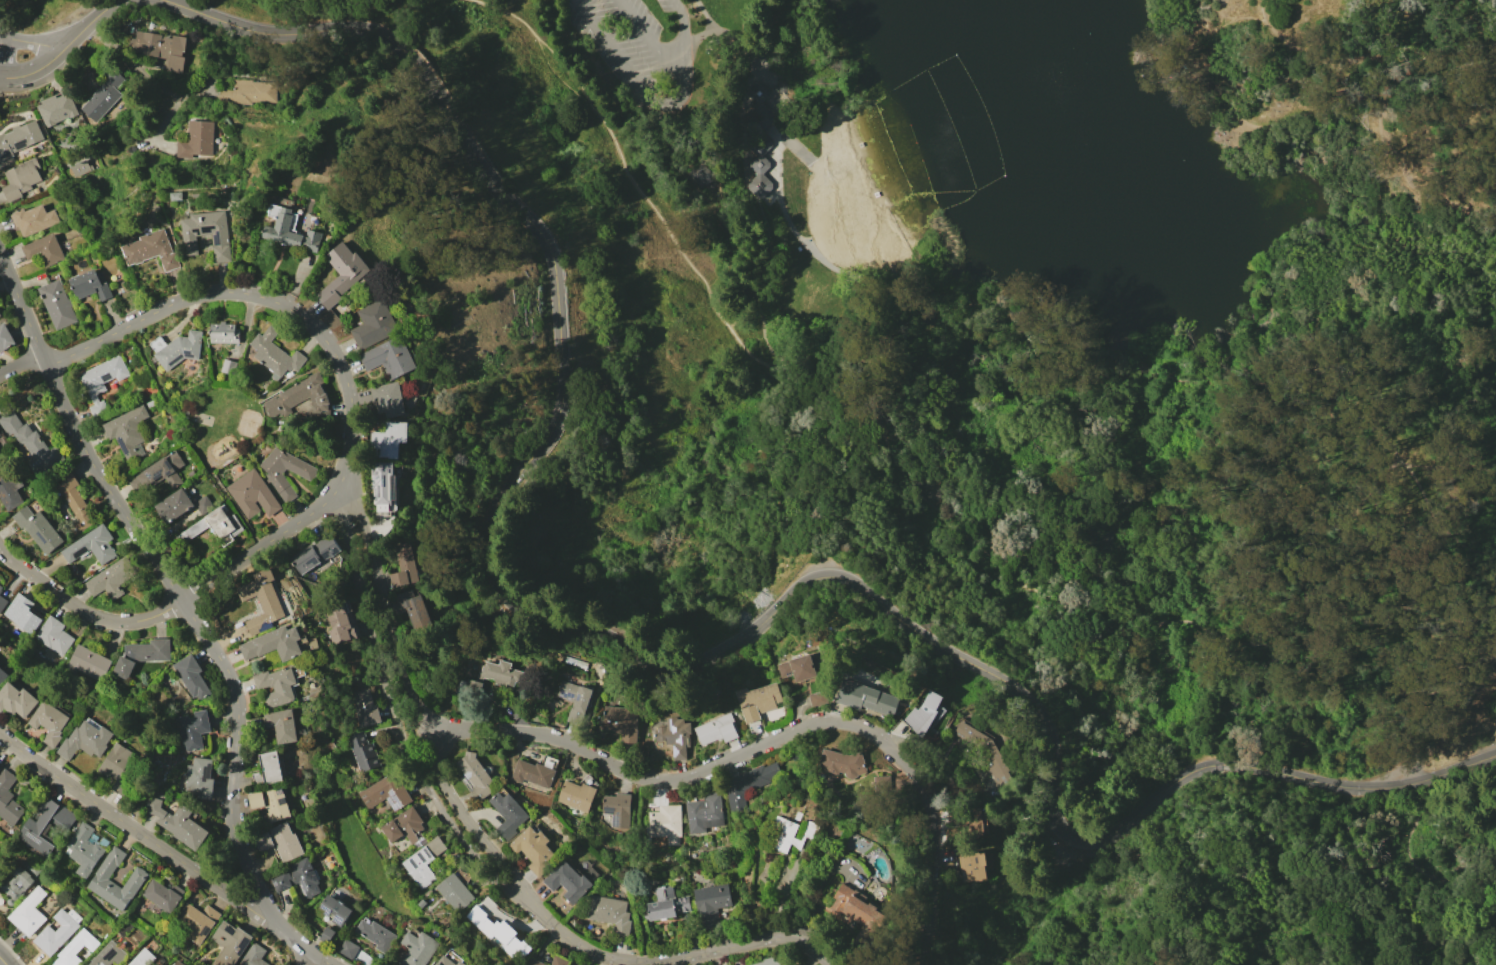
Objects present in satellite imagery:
road: (529, 2)
road: (502, 3)
road: (705, 16)
road: (98, 22)
road: (72, 26)
road: (639, 28)
road: (32, 42)
parking lot: (640, 47)
building: (161, 48)
road: (674, 49)
road: (5, 56)
road: (134, 64)
road: (752, 68)
road: (35, 73)
road: (607, 89)
building: (249, 92)
building: (102, 96)
road: (1379, 102)
road: (651, 106)
road: (1315, 107)
building: (56, 108)
building: (760, 109)
road: (779, 133)
building: (19, 138)
building: (196, 139)
road: (1303, 151)
building: (760, 163)
building: (80, 168)
building: (699, 175)
road: (629, 176)
building: (19, 179)
road: (1370, 217)
building: (32, 219)
road: (1460, 220)
road: (763, 224)
road: (788, 224)
building: (206, 233)
building: (291, 233)
building: (43, 249)
building: (151, 250)
road: (1412, 250)
building: (341, 273)
building: (89, 285)
building: (56, 304)
building: (0, 315)
building: (373, 324)
road: (1312, 325)
building: (223, 333)
building: (5, 337)
road: (1089, 339)
road: (1260, 347)
building: (177, 349)
building: (275, 354)
road: (334, 356)
building: (388, 357)
road: (20, 363)
building: (228, 366)
road: (296, 377)
building: (101, 382)
building: (300, 398)
building: (387, 399)
park: (201, 418)
road: (225, 419)
park: (221, 423)
road: (183, 424)
building: (127, 432)
building: (386, 438)
building: (31, 442)
road: (1453, 466)
building: (158, 473)
building: (274, 477)
building: (381, 484)
building: (9, 492)
building: (251, 494)
building: (73, 498)
building: (173, 505)
building: (203, 505)
road: (236, 510)
building: (217, 525)
building: (37, 529)
building: (90, 545)
building: (314, 554)
building: (403, 566)
building: (111, 578)
building: (0, 587)
building: (0, 591)
building: (2, 602)
building: (263, 605)
road: (1405, 606)
road: (1447, 606)
road: (83, 609)
building: (413, 610)
building: (23, 612)
road: (188, 612)
building: (339, 621)
road: (1148, 626)
road: (588, 629)
building: (54, 635)
building: (274, 643)
building: (142, 655)
building: (575, 662)
building: (88, 663)
building: (797, 668)
building: (2, 676)
building: (191, 676)
building: (492, 678)
building: (276, 686)
building: (865, 697)
building: (573, 699)
building: (818, 699)
building: (17, 700)
building: (757, 701)
road: (414, 703)
building: (362, 707)
building: (923, 714)
road: (399, 716)
building: (52, 722)
building: (621, 722)
building: (280, 725)
building: (193, 729)
building: (716, 729)
building: (674, 736)
road: (1444, 736)
building: (88, 740)
road: (772, 741)
building: (362, 751)
building: (984, 751)
building: (841, 763)
building: (0, 767)
building: (122, 768)
building: (268, 768)
building: (0, 769)
building: (535, 771)
building: (475, 773)
building: (199, 778)
road: (369, 778)
road: (1419, 781)
building: (747, 783)
building: (881, 784)
building: (385, 792)
building: (576, 795)
building: (9, 798)
building: (270, 802)
building: (616, 809)
building: (703, 812)
building: (507, 815)
building: (976, 821)
building: (177, 822)
building: (665, 823)
building: (47, 825)
building: (403, 825)
road: (134, 828)
building: (794, 834)
building: (262, 841)
building: (285, 841)
road: (352, 845)
building: (533, 849)
building: (85, 850)
building: (423, 859)
road: (1415, 862)
building: (971, 867)
building: (138, 876)
building: (297, 878)
building: (568, 881)
building: (16, 884)
building: (454, 889)
building: (162, 895)
building: (666, 904)
building: (710, 904)
building: (858, 908)
building: (334, 909)
building: (28, 912)
building: (609, 913)
building: (197, 921)
building: (499, 932)
building: (55, 933)
building: (326, 934)
building: (375, 934)
road: (745, 944)
road: (579, 945)
road: (1479, 945)
building: (236, 948)
building: (77, 949)
building: (347, 949)
building: (419, 949)
building: (110, 956)
building: (146, 959)
road: (4, 960)
building: (558, 960)
building: (779, 960)
road: (313, 961)
building: (445, 961)
building: (533, 962)
building: (176, 963)
building: (460, 963)
building: (743, 964)

